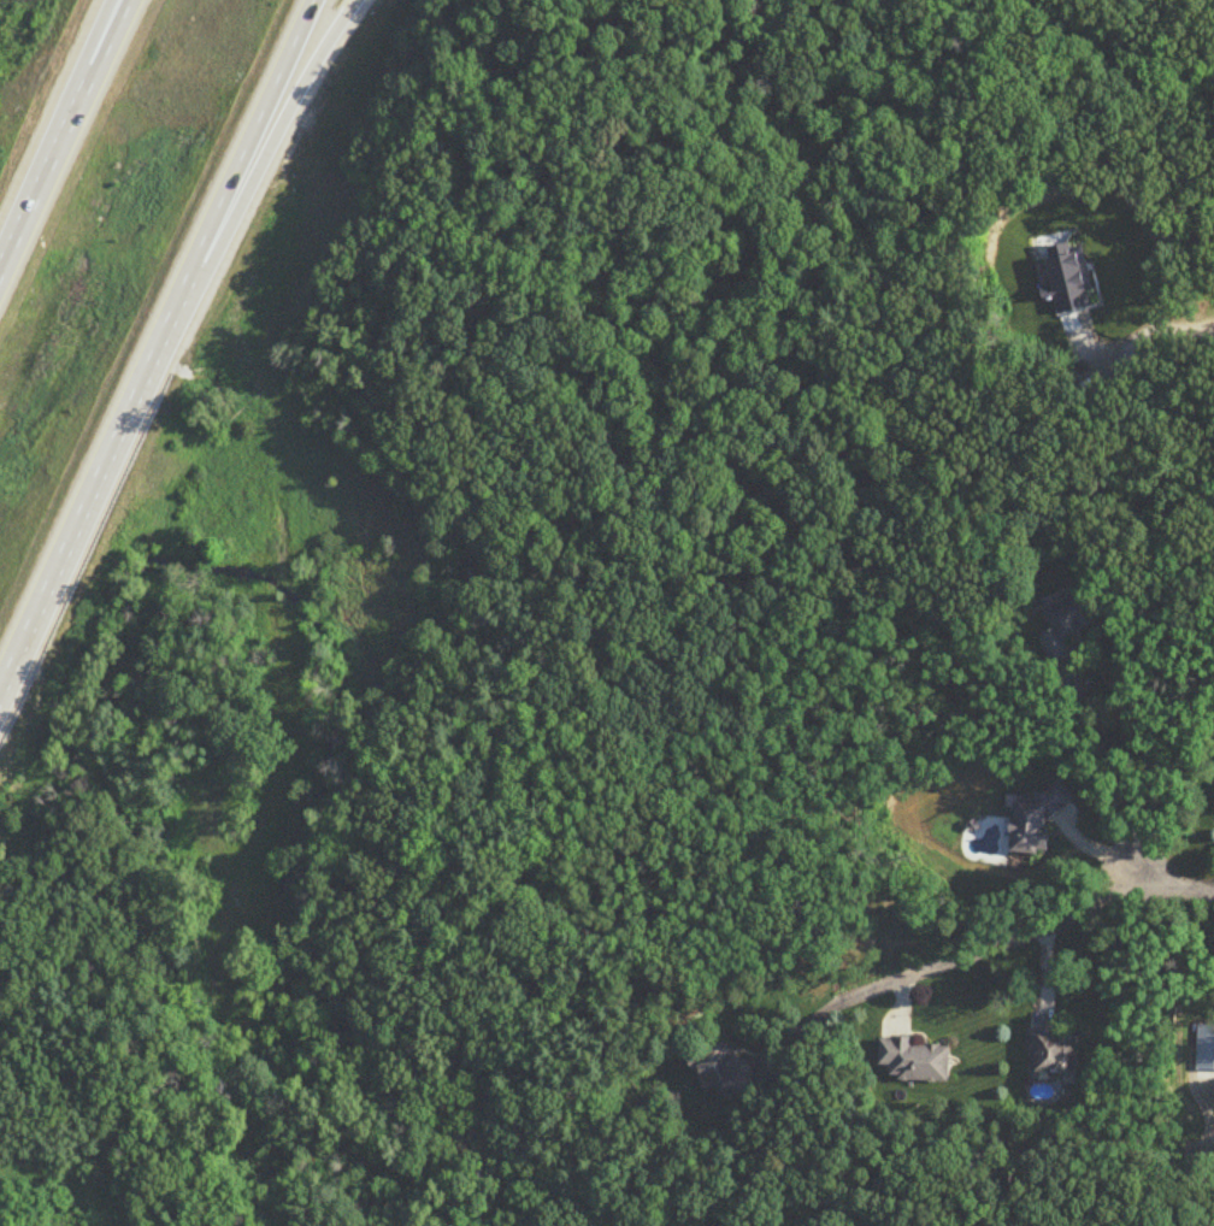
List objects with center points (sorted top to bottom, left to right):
building: (111, 61)
road: (81, 78)
road: (67, 140)
road: (266, 161)
road: (1185, 326)
road: (158, 346)
building: (1067, 624)
road: (1120, 784)
building: (1036, 825)
road: (1030, 931)
building: (1054, 1054)
building: (915, 1061)
building: (729, 1072)

